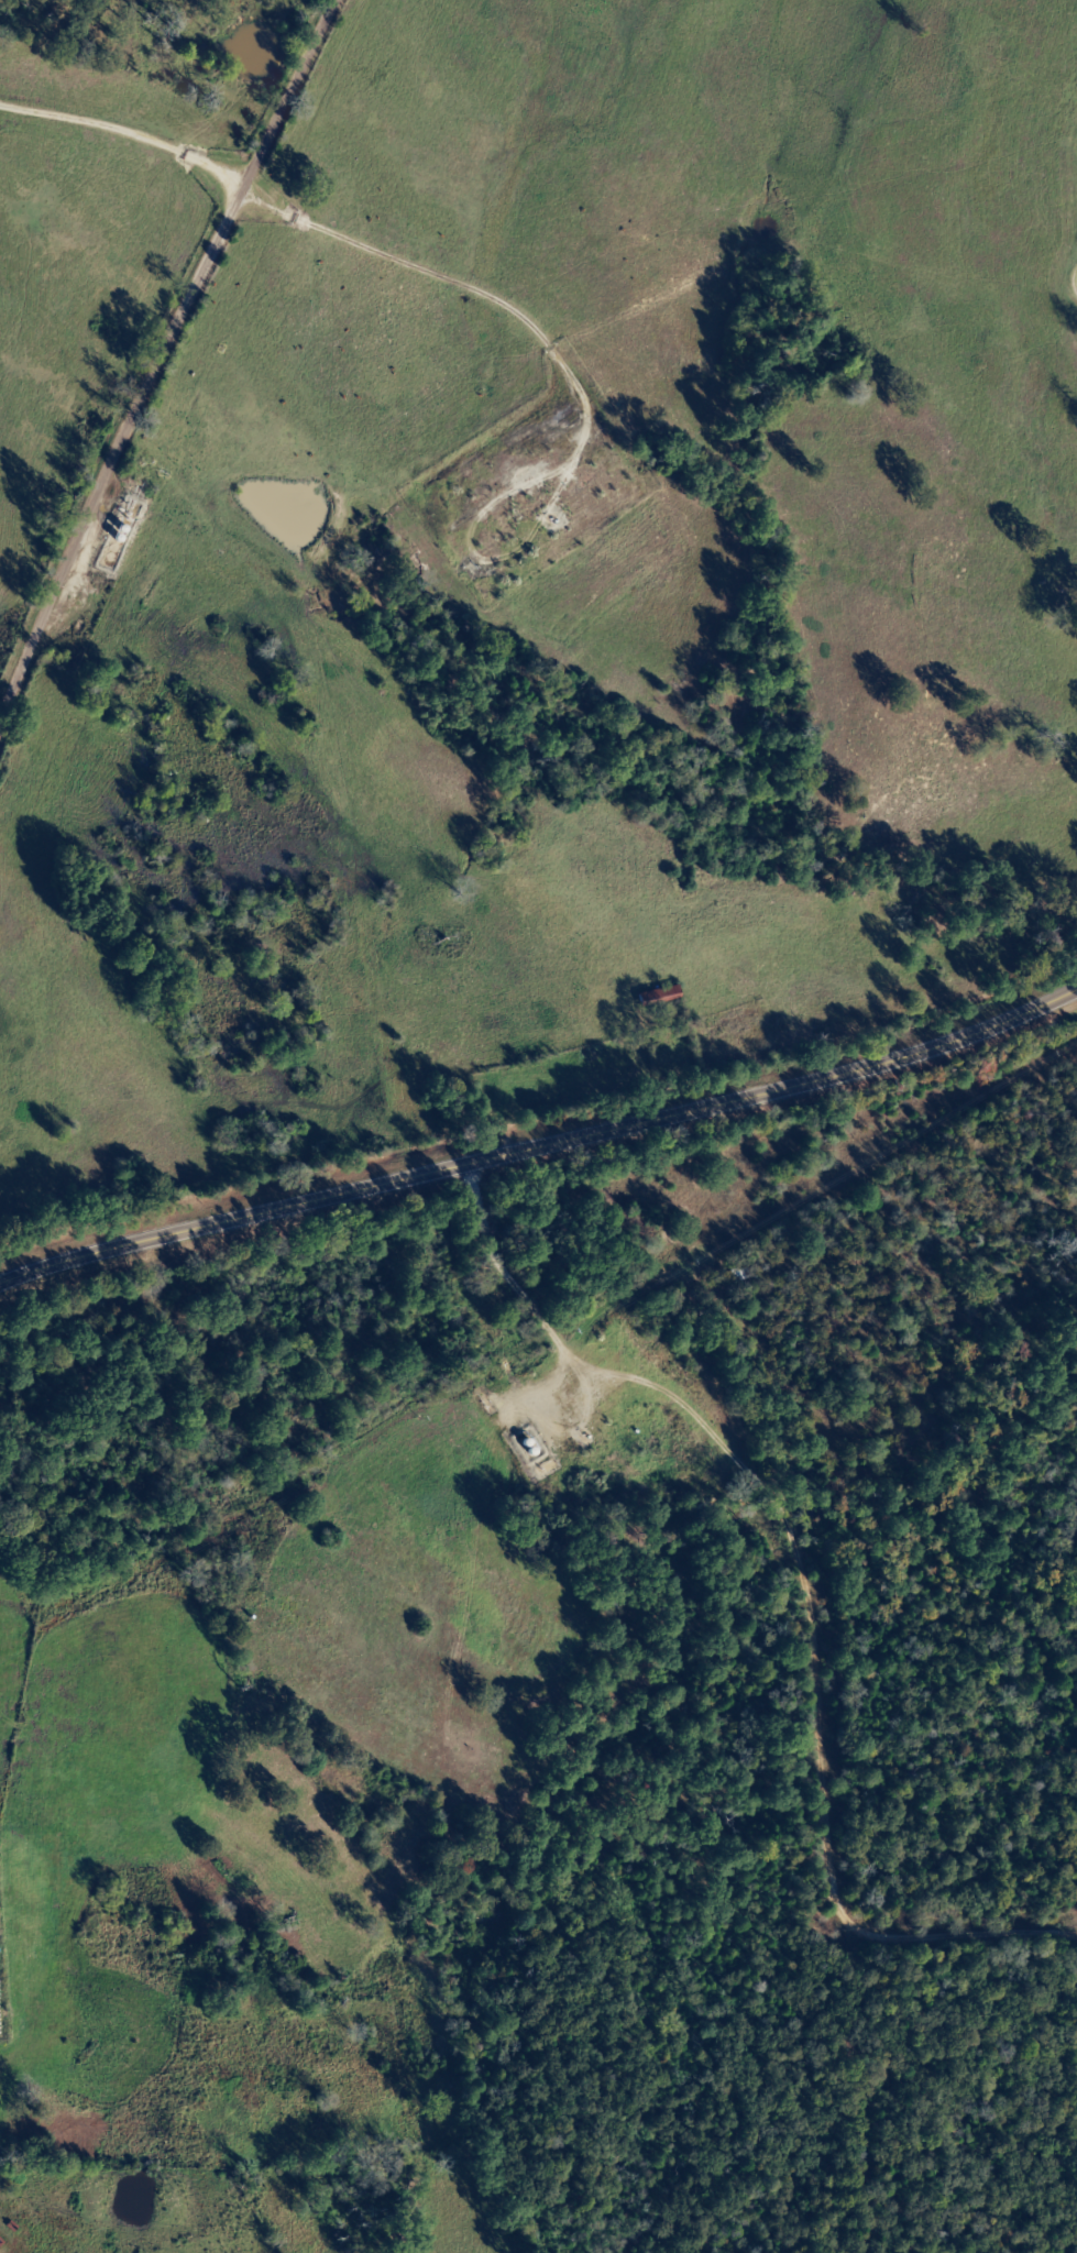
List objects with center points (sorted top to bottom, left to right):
road: (158, 349)
building: (662, 996)
road: (541, 1144)

